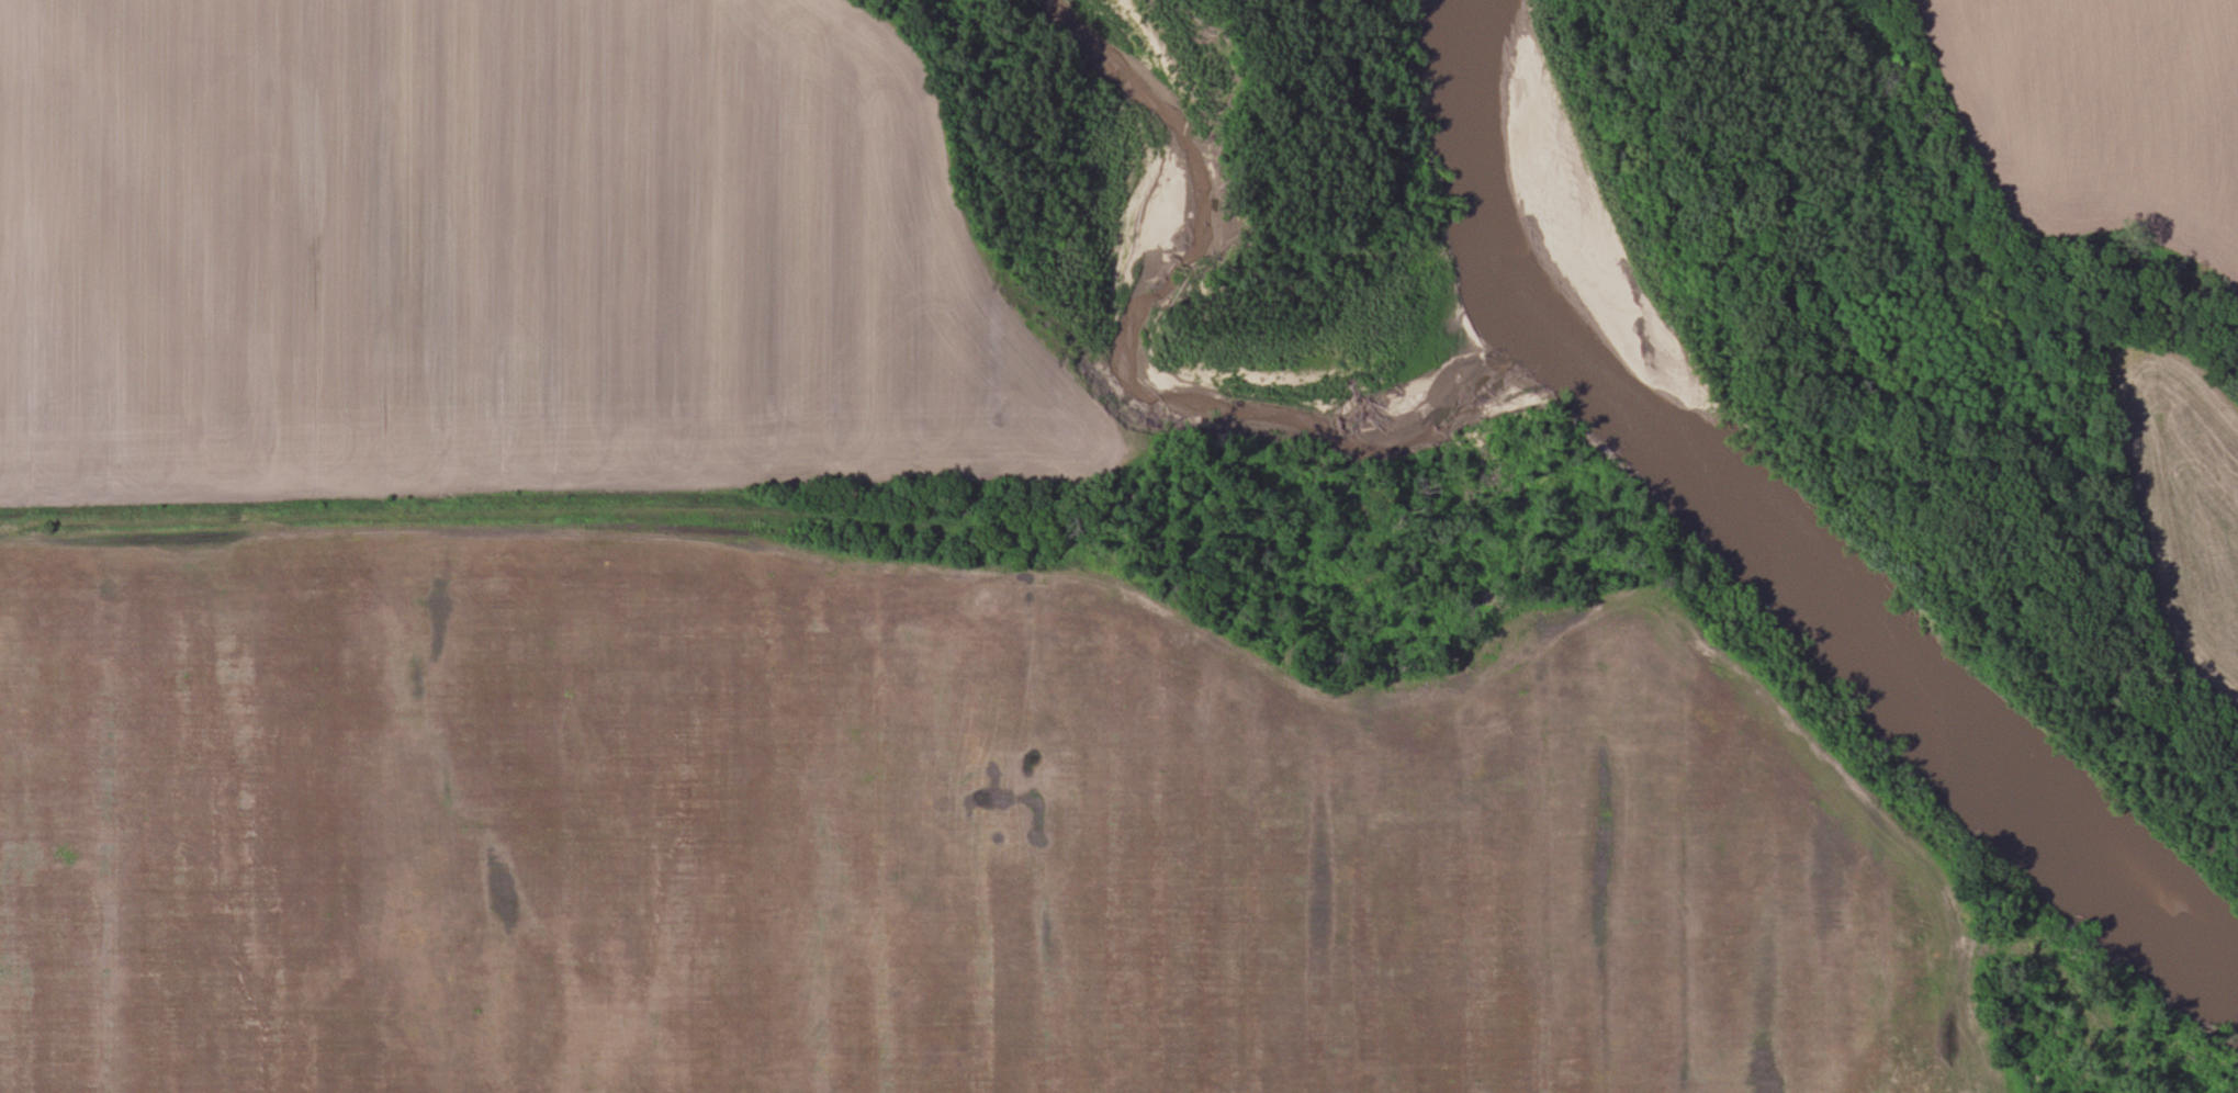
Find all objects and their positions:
road: (488, 508)
river: (1766, 528)

